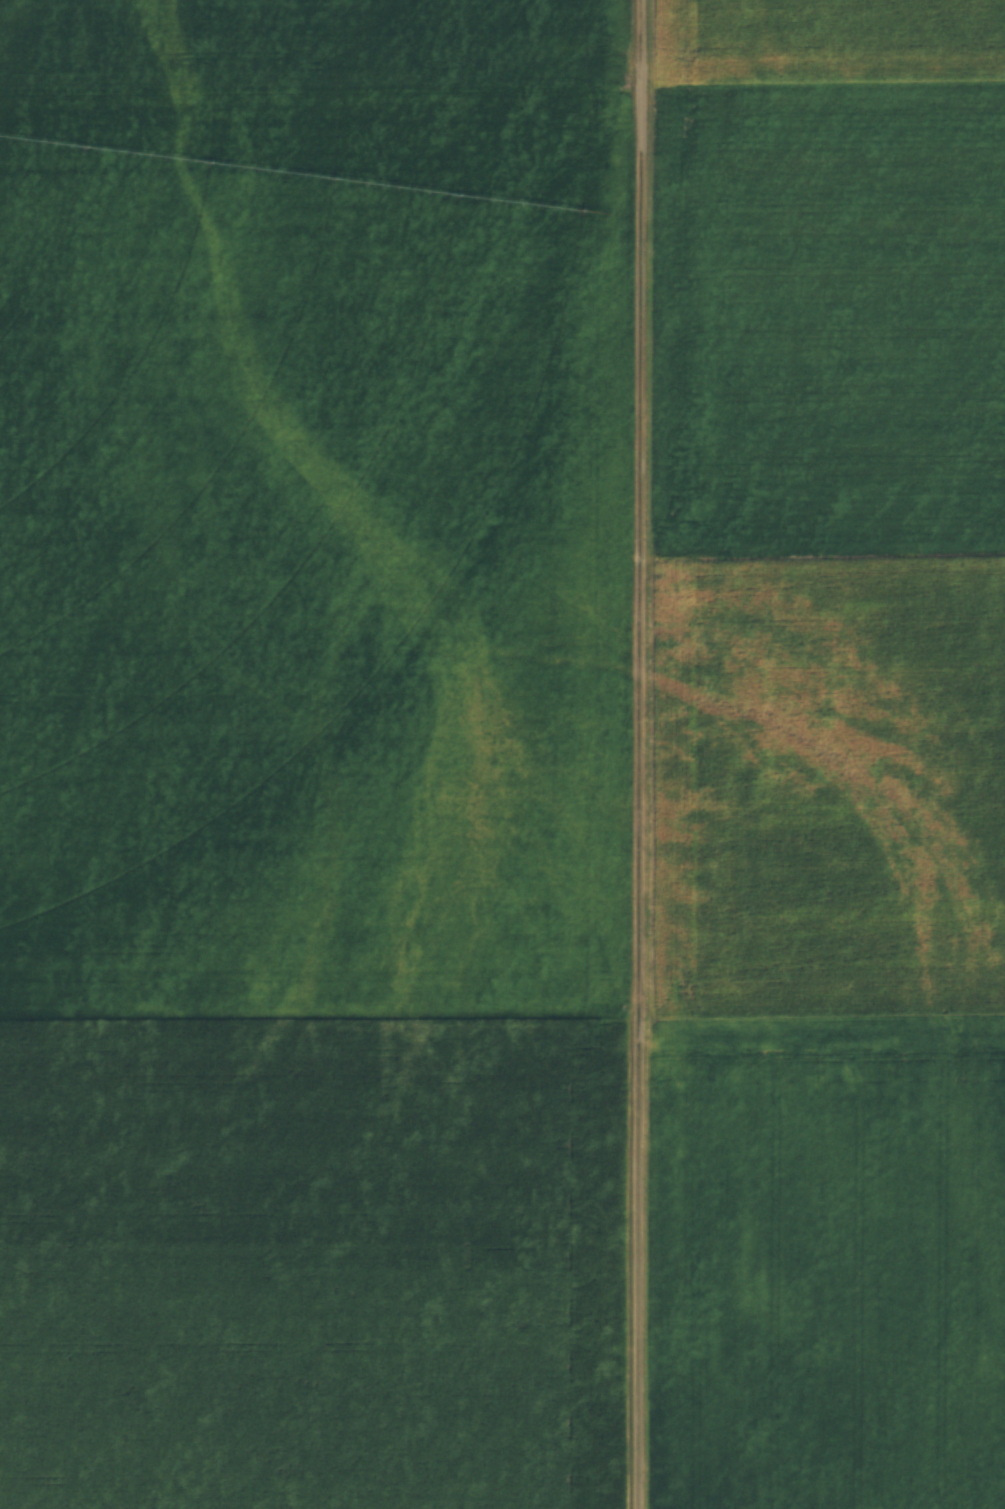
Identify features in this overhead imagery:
road: (645, 754)

